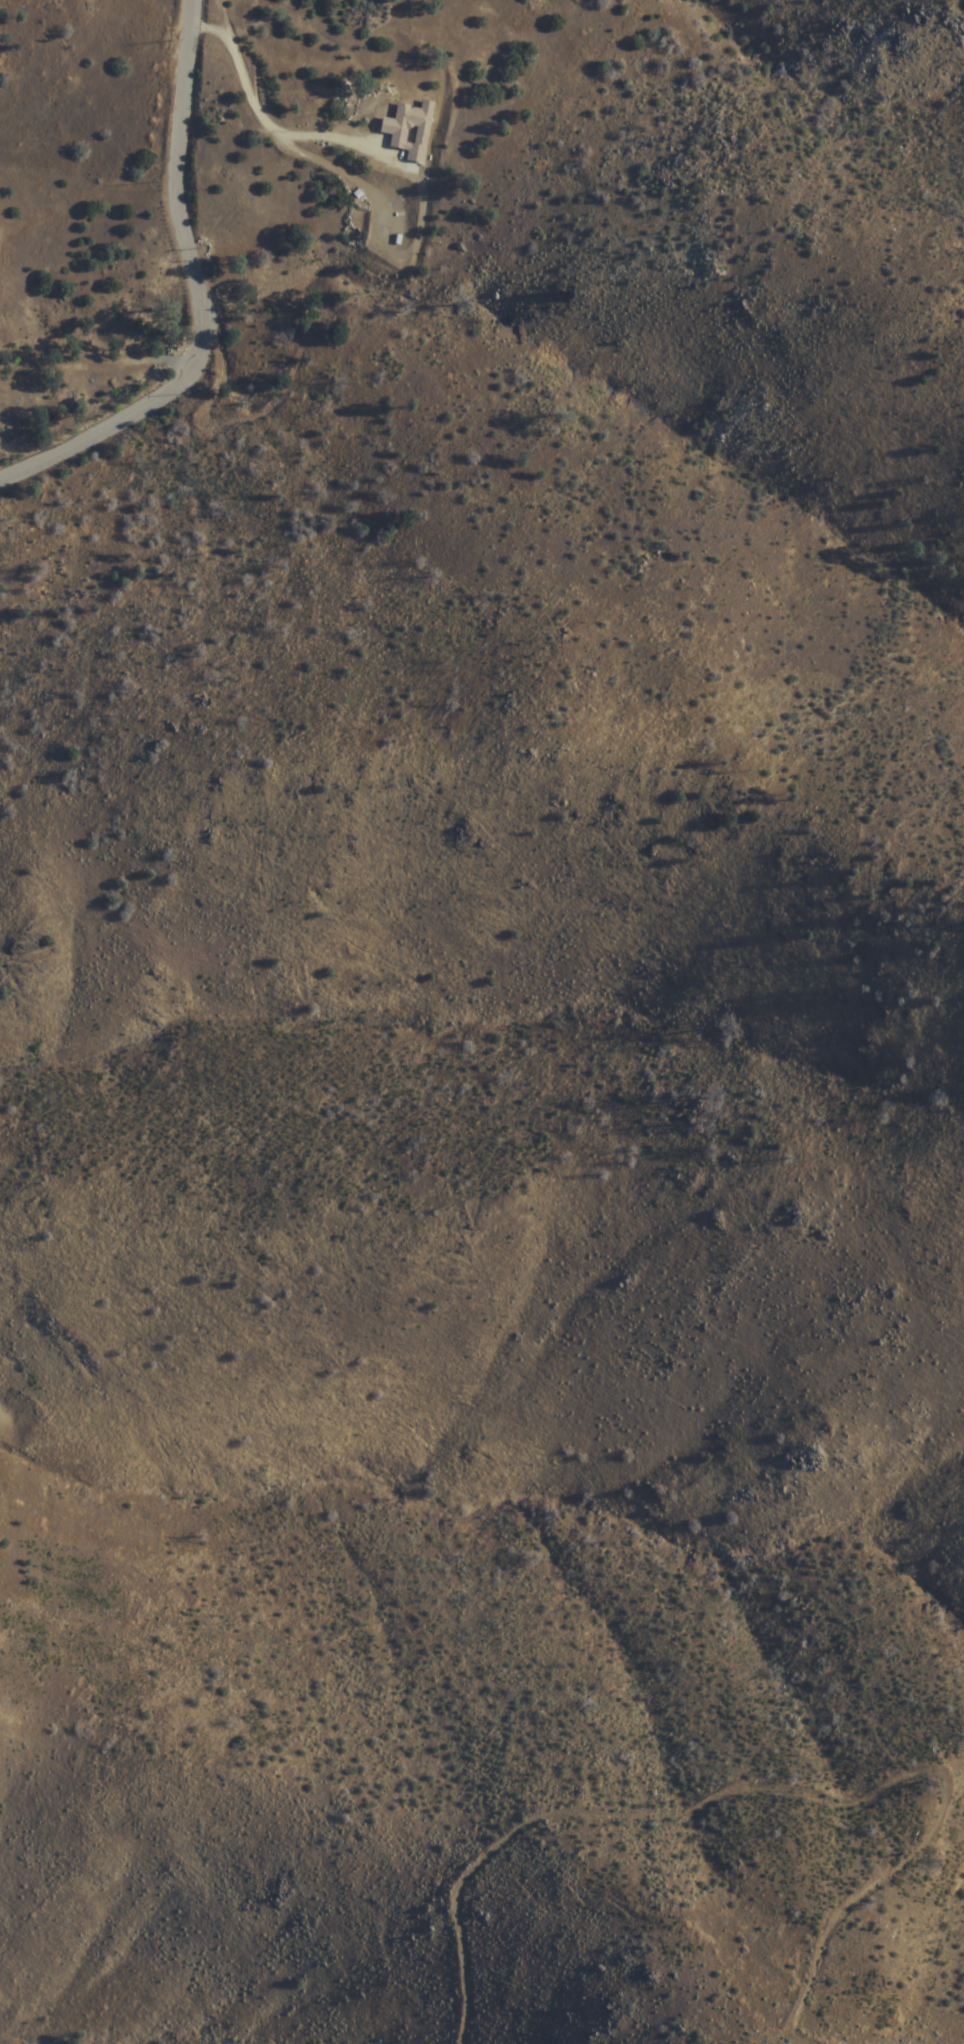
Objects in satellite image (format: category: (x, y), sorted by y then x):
building: (412, 130)
road: (202, 299)

